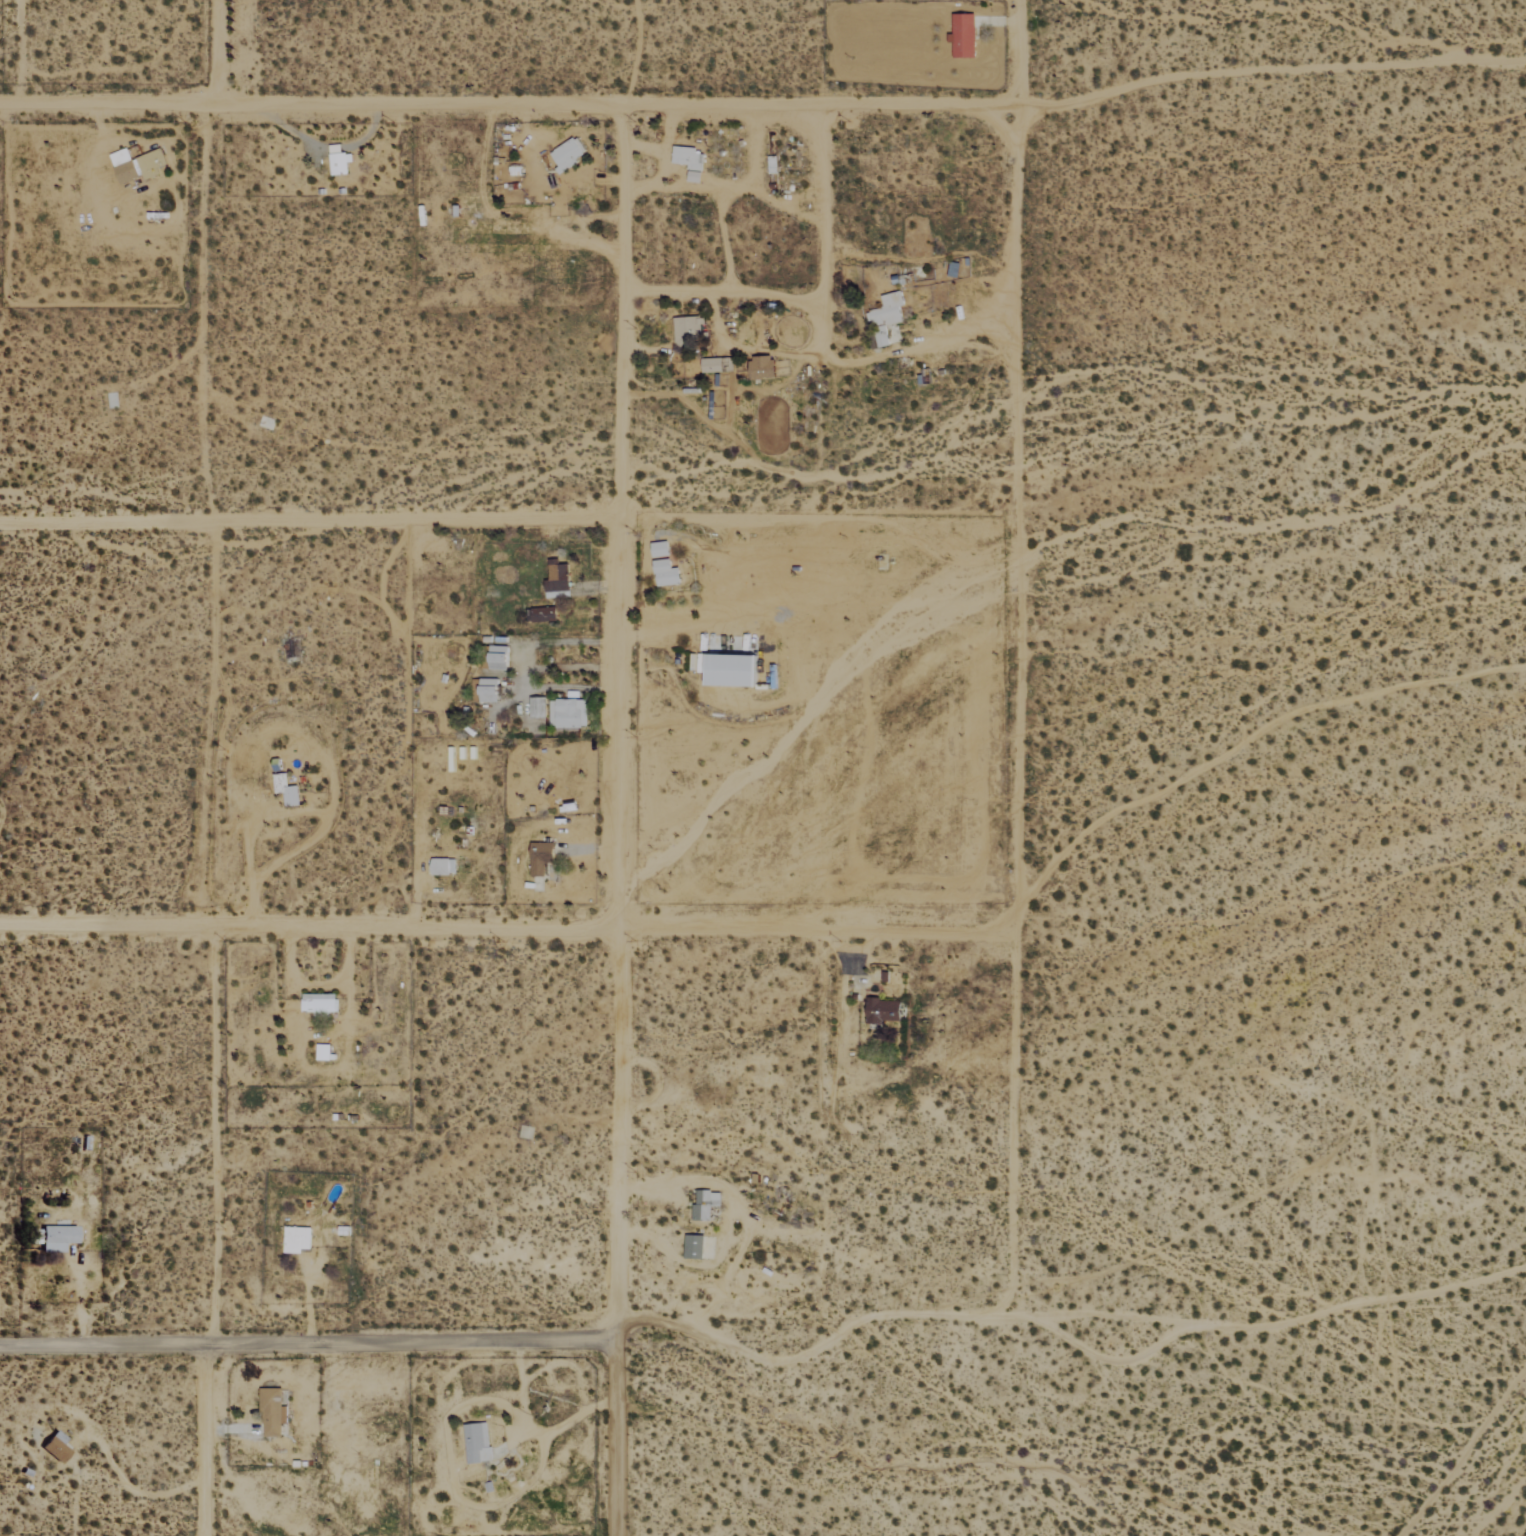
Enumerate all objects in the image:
building: (963, 36)
road: (408, 106)
road: (916, 108)
building: (567, 154)
building: (338, 160)
building: (688, 162)
building: (137, 165)
road: (817, 209)
building: (953, 270)
road: (207, 313)
building: (886, 318)
building: (688, 328)
building: (715, 365)
building: (761, 367)
building: (111, 400)
road: (307, 520)
building: (660, 549)
building: (666, 573)
building: (557, 582)
building: (543, 615)
building: (498, 657)
road: (1016, 657)
building: (732, 671)
building: (488, 690)
building: (537, 707)
building: (567, 713)
road: (615, 727)
building: (286, 790)
building: (540, 858)
building: (443, 867)
road: (419, 928)
building: (319, 1002)
building: (882, 1010)
road: (209, 1138)
building: (705, 1205)
building: (58, 1237)
building: (297, 1239)
building: (693, 1246)
road: (304, 1349)
road: (813, 1350)
building: (273, 1412)
building: (475, 1441)
road: (611, 1441)
road: (205, 1443)
building: (56, 1446)

